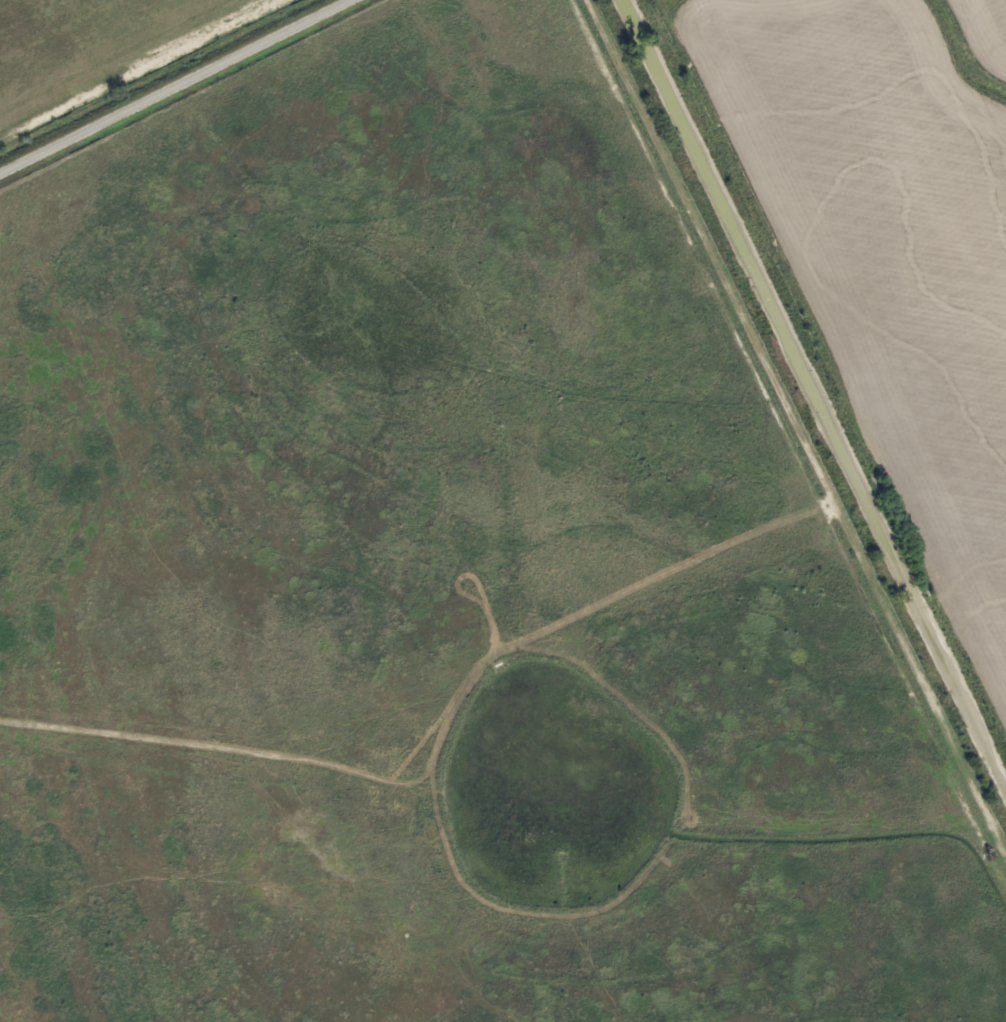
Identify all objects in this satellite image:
road: (174, 86)
road: (796, 421)

